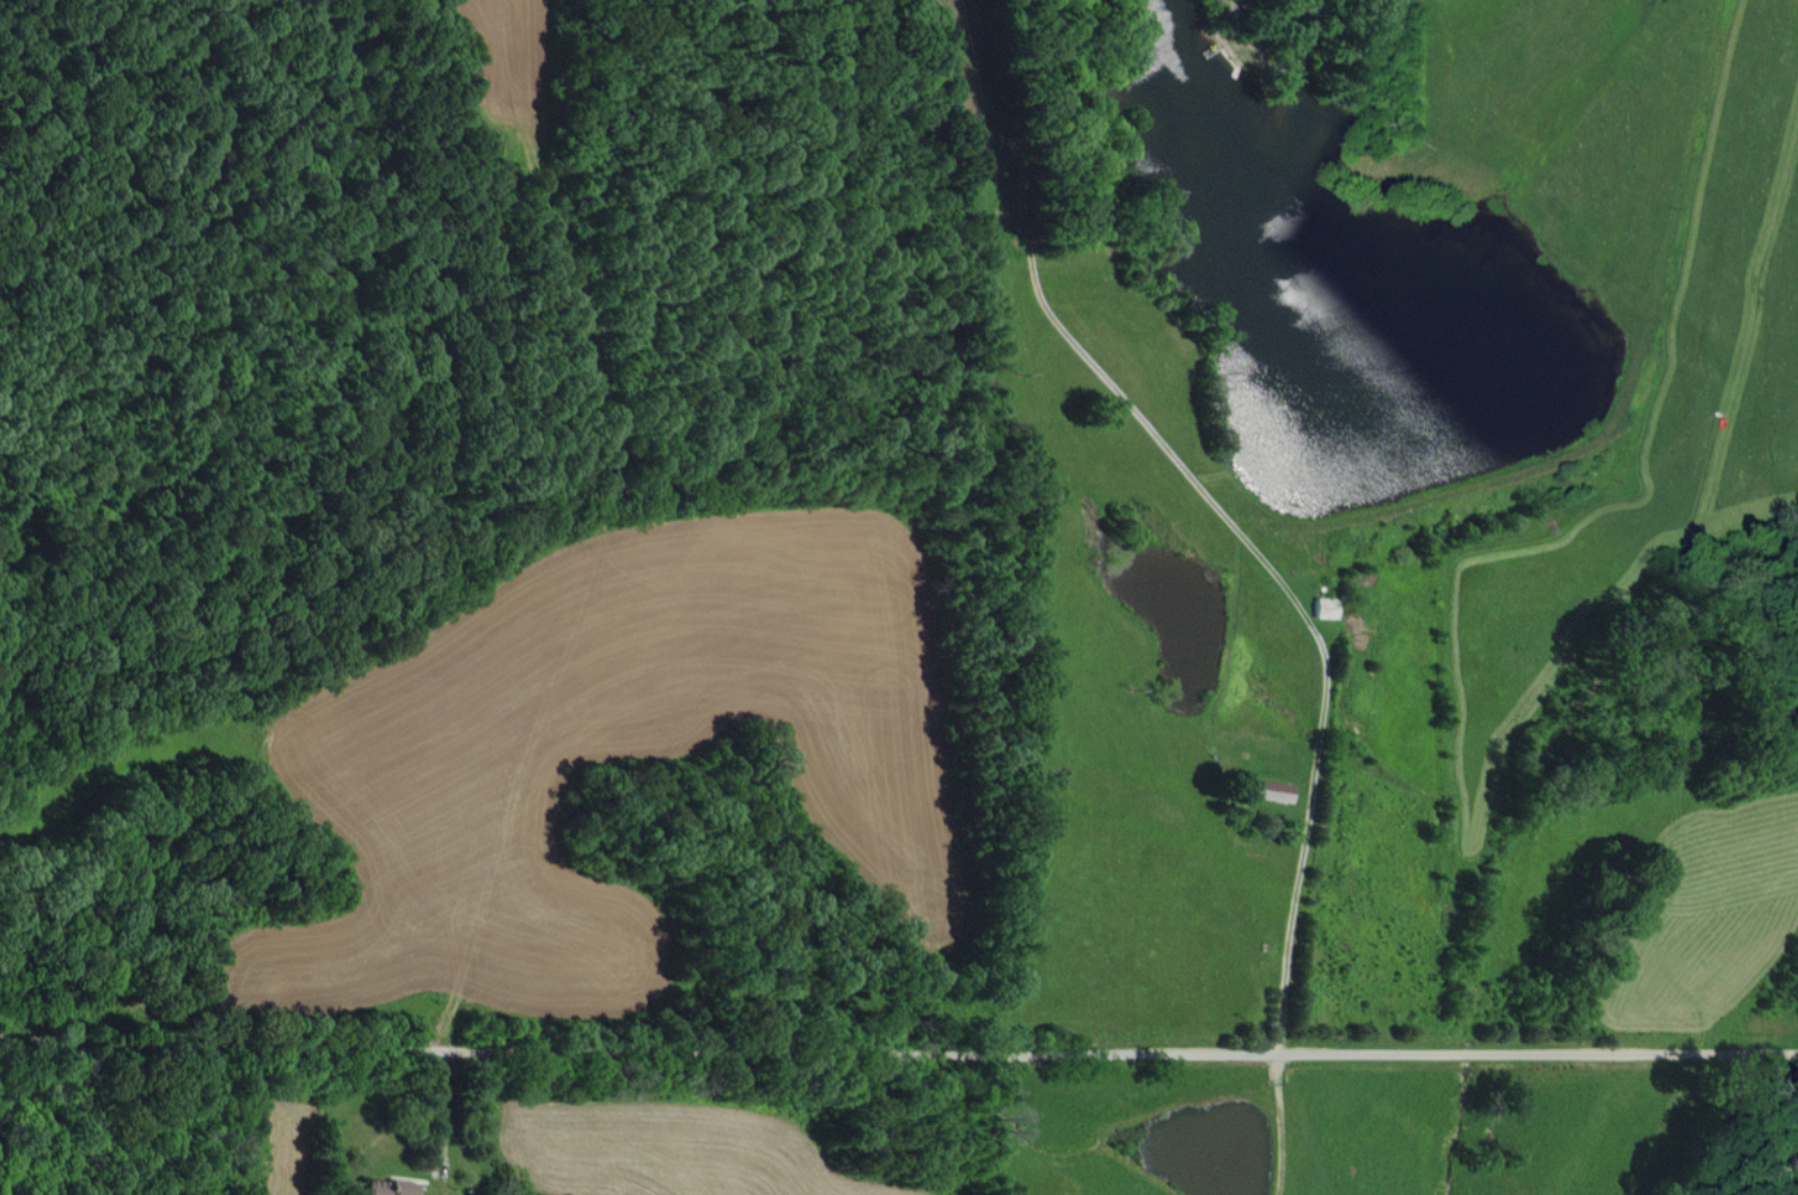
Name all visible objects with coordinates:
building: (1268, 790)
road: (898, 1049)
building: (390, 1187)

